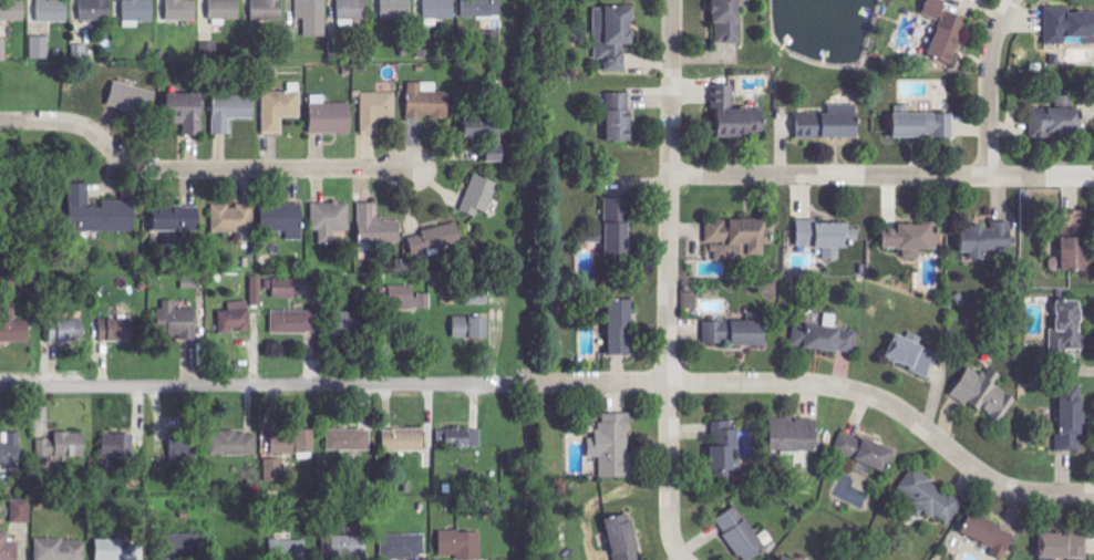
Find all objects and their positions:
building: (395, 8)
building: (483, 8)
building: (96, 9)
building: (226, 9)
building: (353, 9)
building: (440, 9)
building: (12, 10)
building: (53, 10)
building: (140, 10)
building: (183, 10)
building: (269, 10)
building: (313, 17)
building: (729, 21)
building: (1067, 24)
building: (947, 30)
building: (615, 34)
building: (41, 48)
building: (209, 49)
building: (337, 49)
building: (80, 51)
road: (989, 85)
building: (135, 98)
building: (429, 101)
building: (281, 108)
building: (378, 110)
building: (233, 111)
building: (189, 112)
building: (332, 116)
building: (620, 116)
building: (736, 116)
building: (1059, 121)
building: (832, 123)
building: (926, 125)
building: (484, 127)
building: (497, 157)
road: (196, 170)
road: (829, 176)
road: (1041, 177)
building: (481, 195)
building: (102, 211)
building: (234, 218)
building: (179, 219)
building: (287, 219)
building: (331, 219)
building: (1076, 219)
building: (378, 227)
building: (620, 227)
building: (179, 236)
building: (740, 238)
building: (914, 238)
building: (988, 238)
building: (437, 240)
building: (1073, 256)
road: (669, 270)
building: (285, 288)
building: (257, 290)
building: (479, 297)
building: (409, 300)
building: (236, 318)
building: (178, 321)
building: (295, 322)
building: (348, 322)
building: (473, 326)
building: (622, 326)
building: (13, 328)
building: (1069, 329)
building: (68, 330)
building: (118, 330)
building: (737, 331)
building: (826, 338)
building: (914, 354)
road: (561, 384)
building: (987, 393)
building: (1073, 421)
building: (796, 435)
building: (462, 437)
building: (350, 439)
building: (405, 439)
building: (293, 442)
building: (234, 444)
building: (64, 445)
building: (118, 445)
building: (615, 445)
building: (726, 446)
building: (11, 449)
building: (185, 450)
building: (866, 450)
building: (272, 469)
building: (933, 497)
building: (22, 510)
building: (743, 533)
building: (991, 535)
building: (625, 538)
building: (462, 545)
building: (186, 546)
building: (1065, 546)
building: (345, 547)
building: (404, 547)
building: (9, 548)
building: (61, 549)
building: (289, 549)
building: (118, 550)
road: (678, 550)
building: (785, 559)

